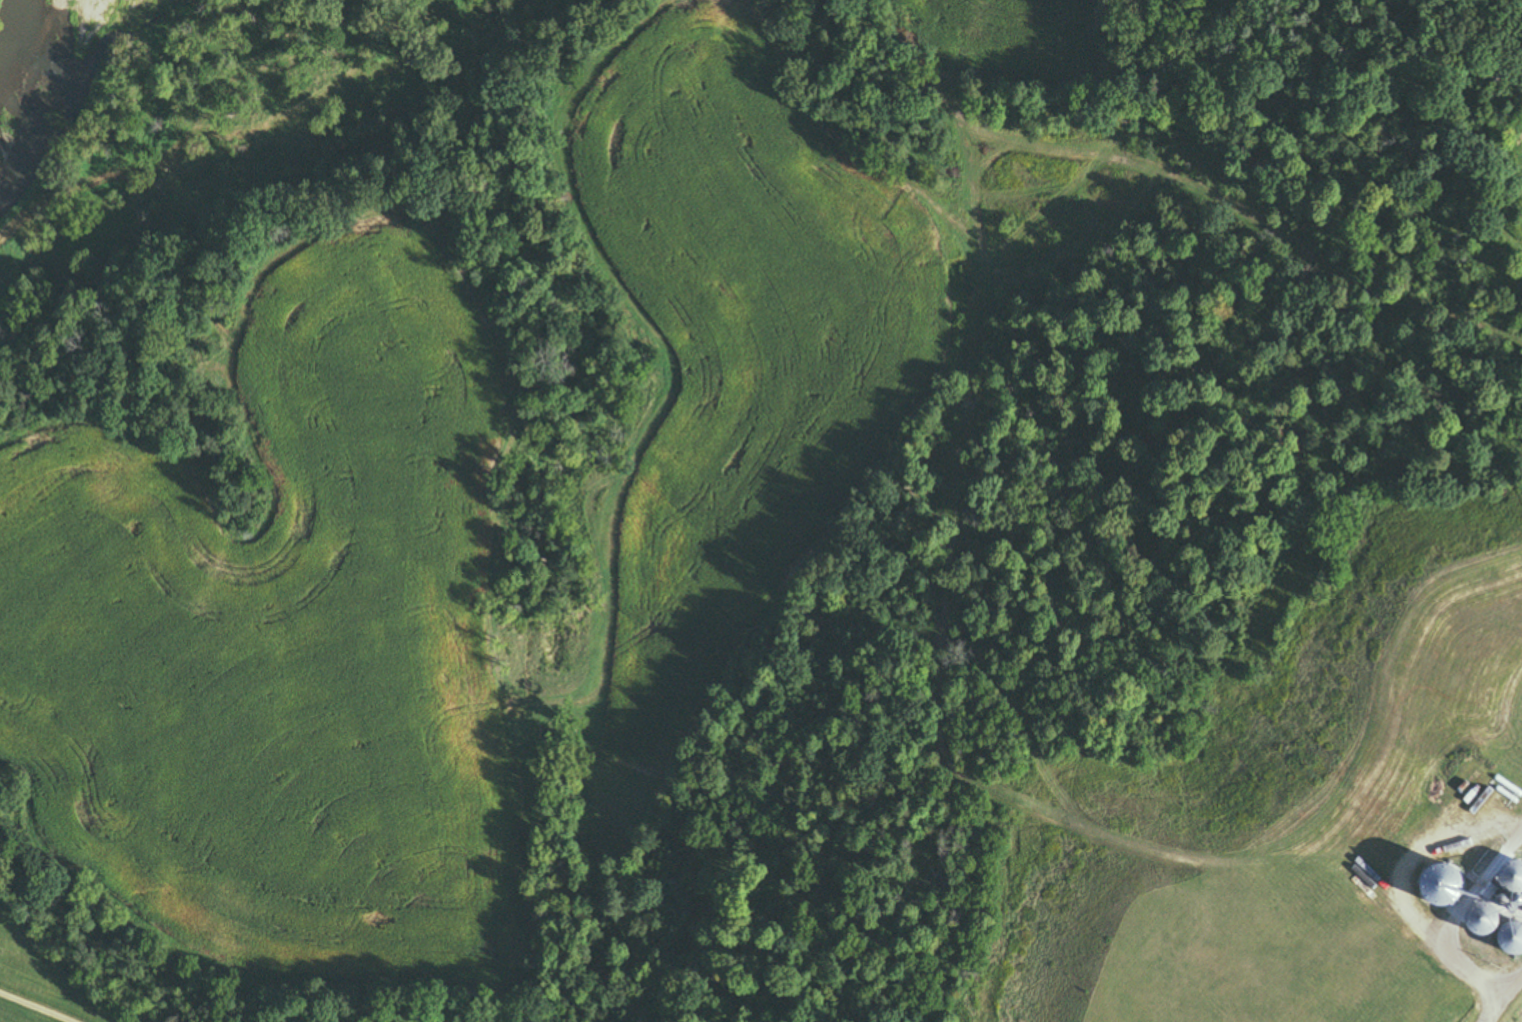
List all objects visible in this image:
river: (58, 29)
road: (1457, 924)
road: (1509, 1004)
road: (35, 1007)

